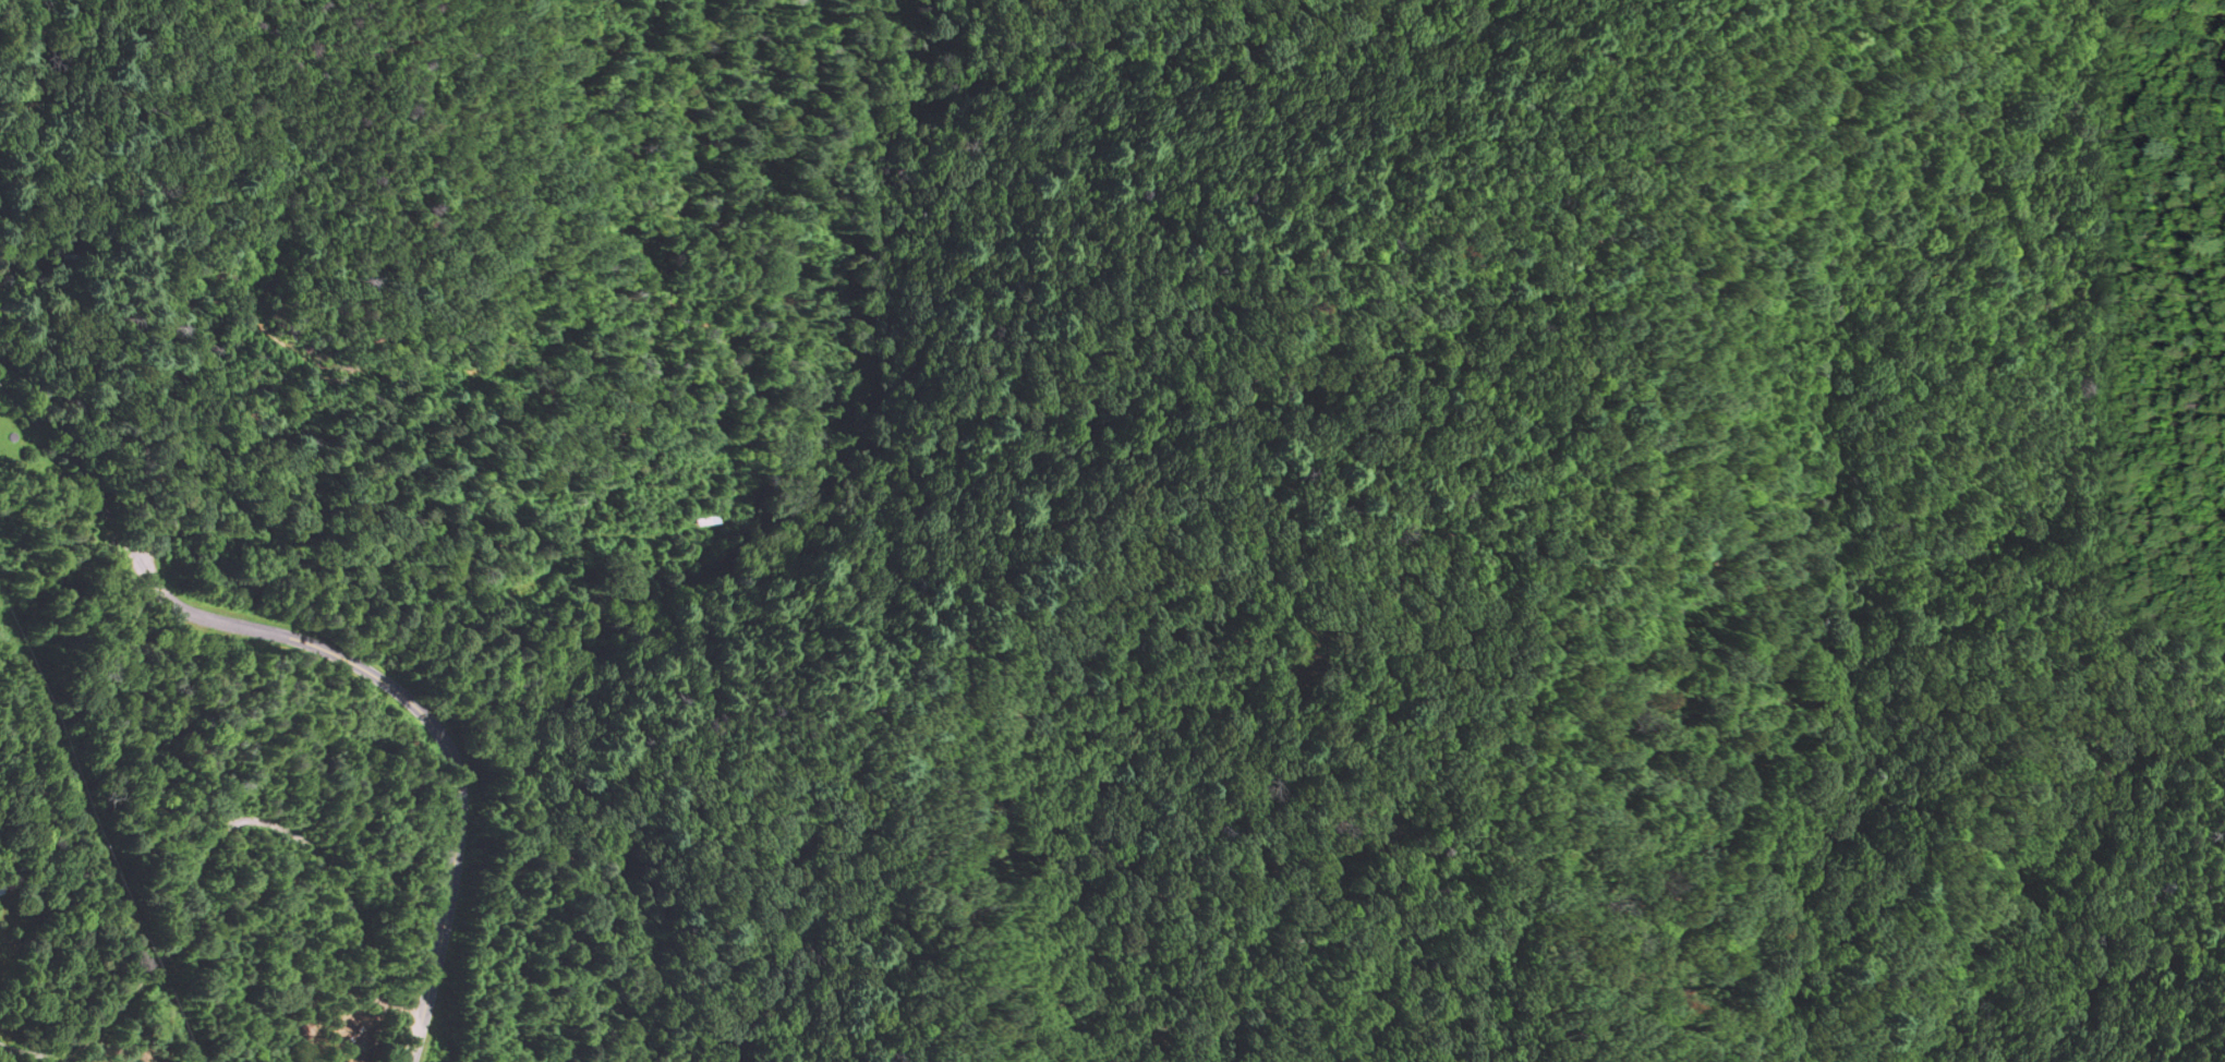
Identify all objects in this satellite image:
road: (335, 685)

